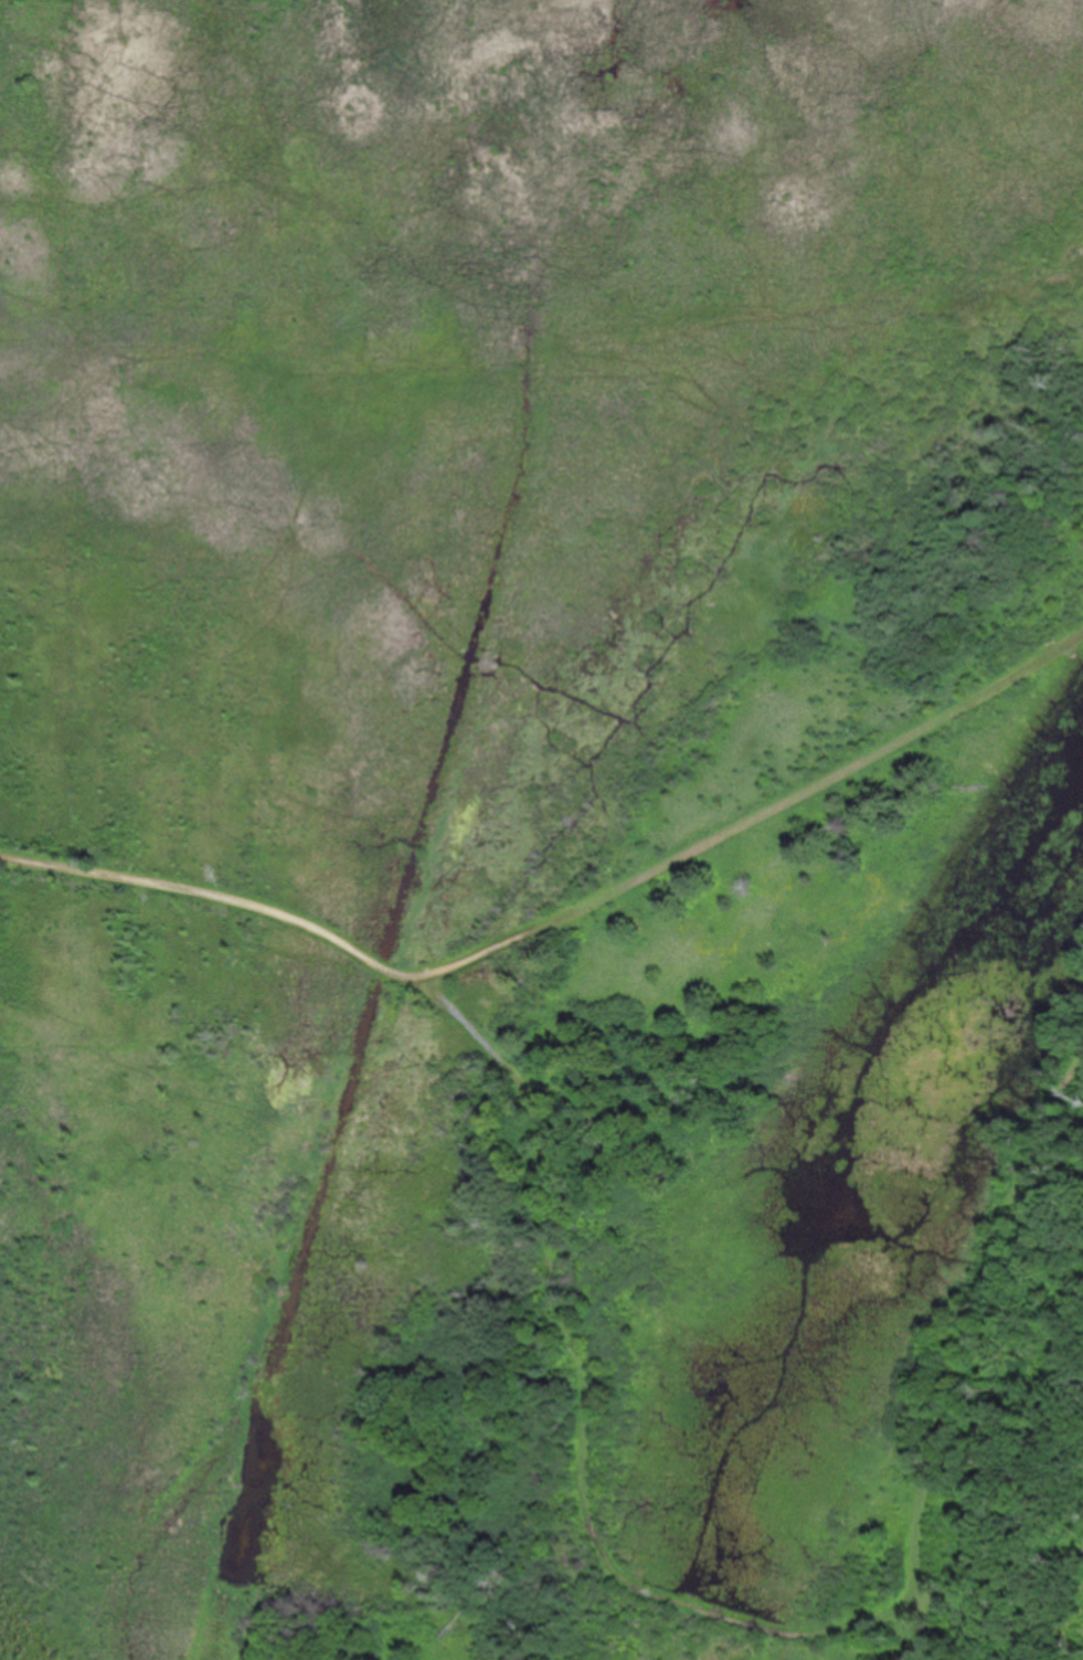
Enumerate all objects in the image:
park: (553, 817)
road: (562, 913)
road: (958, 1347)
road: (576, 1387)

